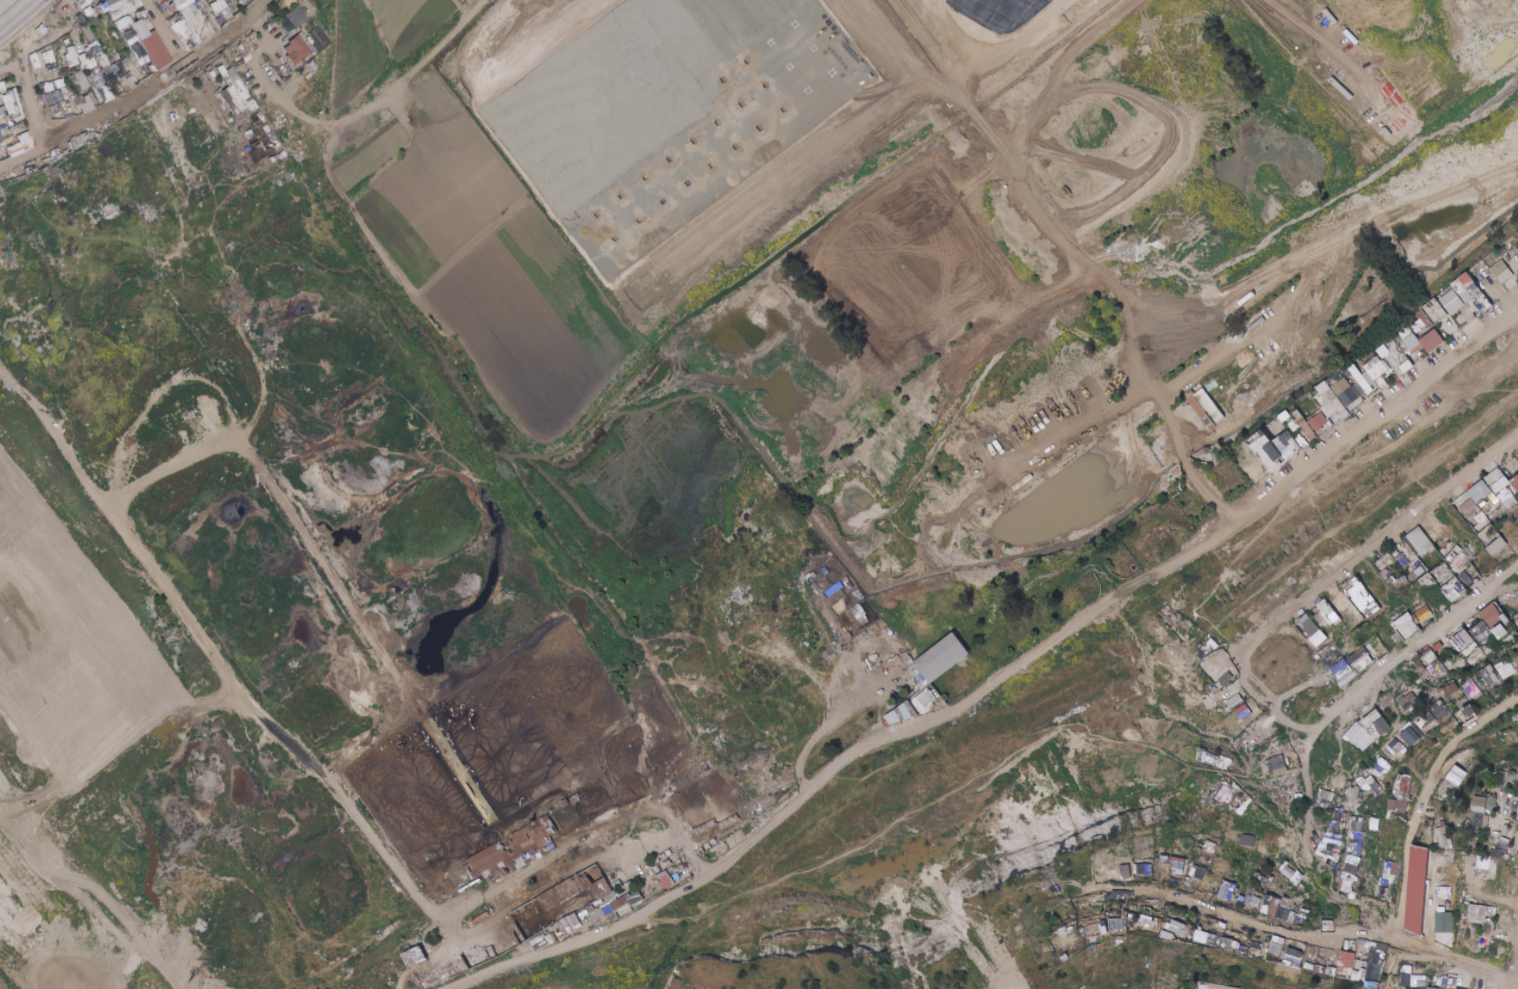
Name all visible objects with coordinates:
crop: (382, 42)
parking lot: (791, 159)
crop: (485, 254)

